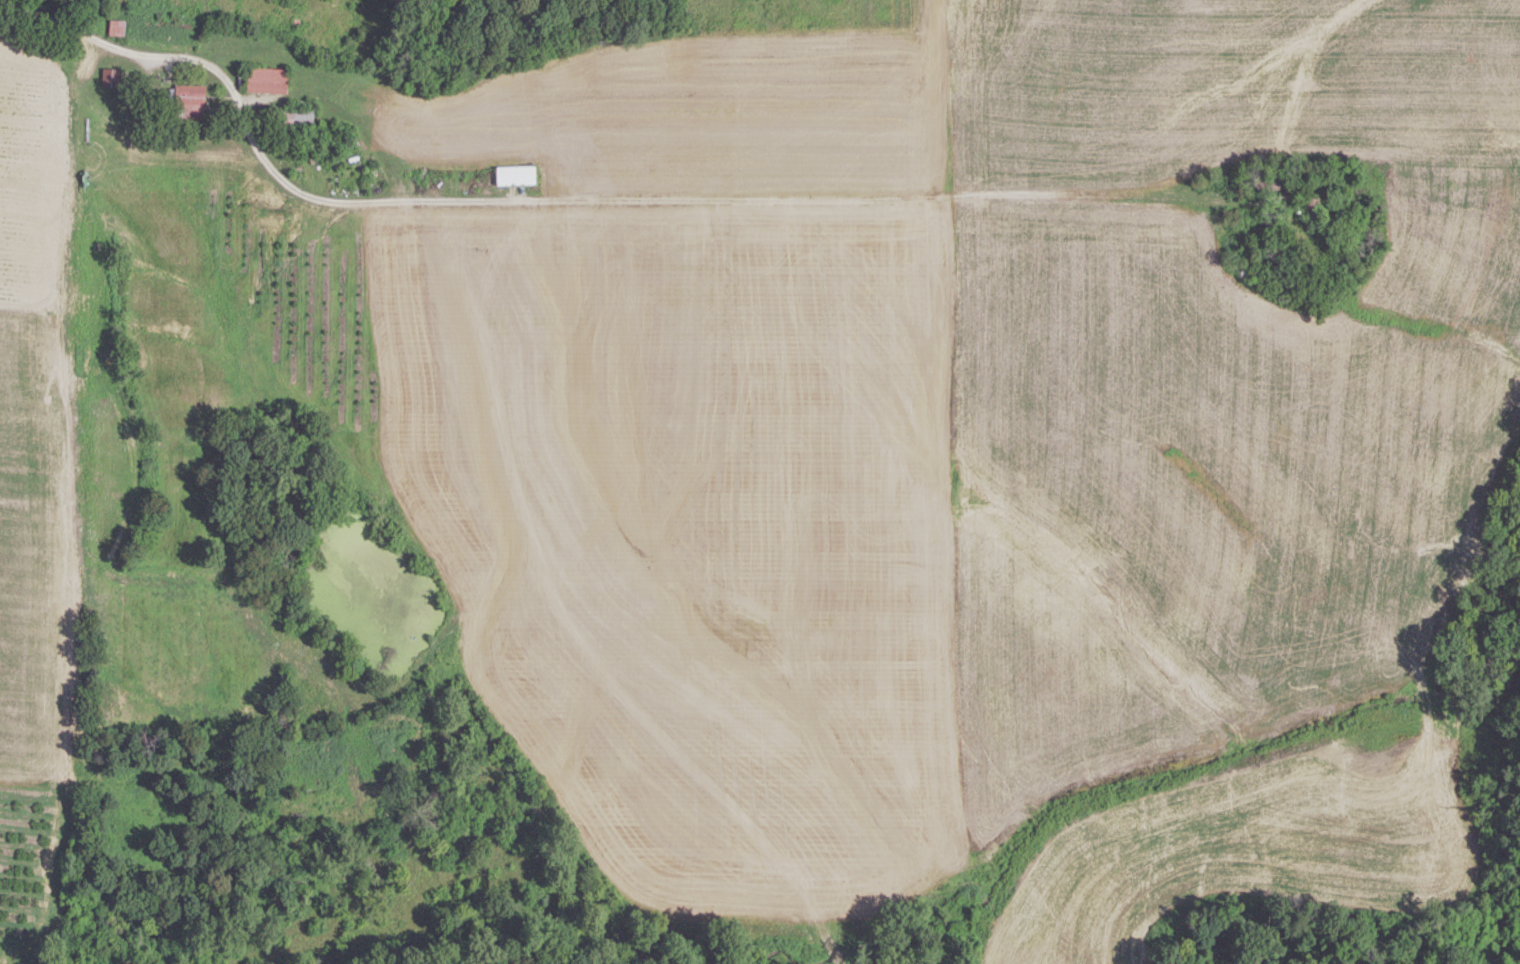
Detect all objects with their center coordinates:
building: (118, 27)
building: (112, 77)
building: (268, 79)
building: (191, 101)
building: (298, 117)
building: (517, 174)
building: (1265, 180)
road: (562, 200)
building: (1310, 211)
crop: (1218, 378)
building: (281, 705)
crop: (27, 865)

